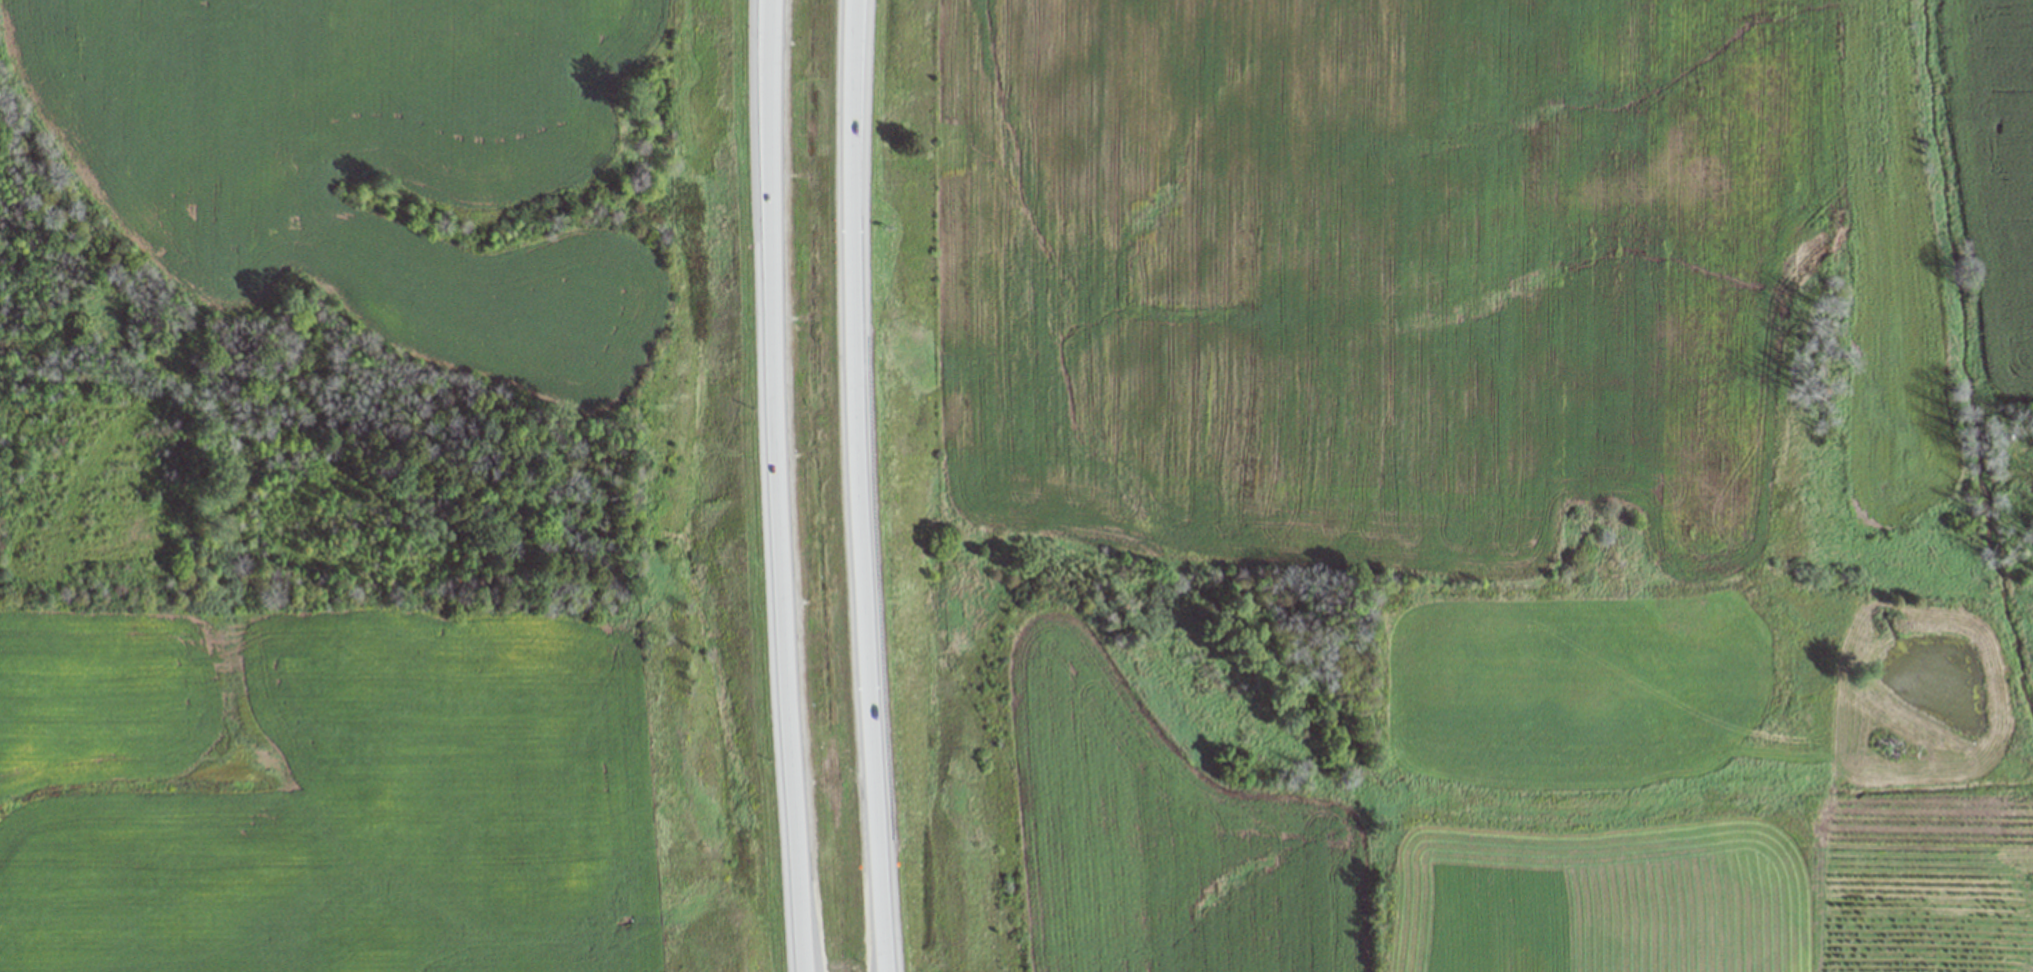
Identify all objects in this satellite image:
road: (785, 486)
road: (883, 486)

